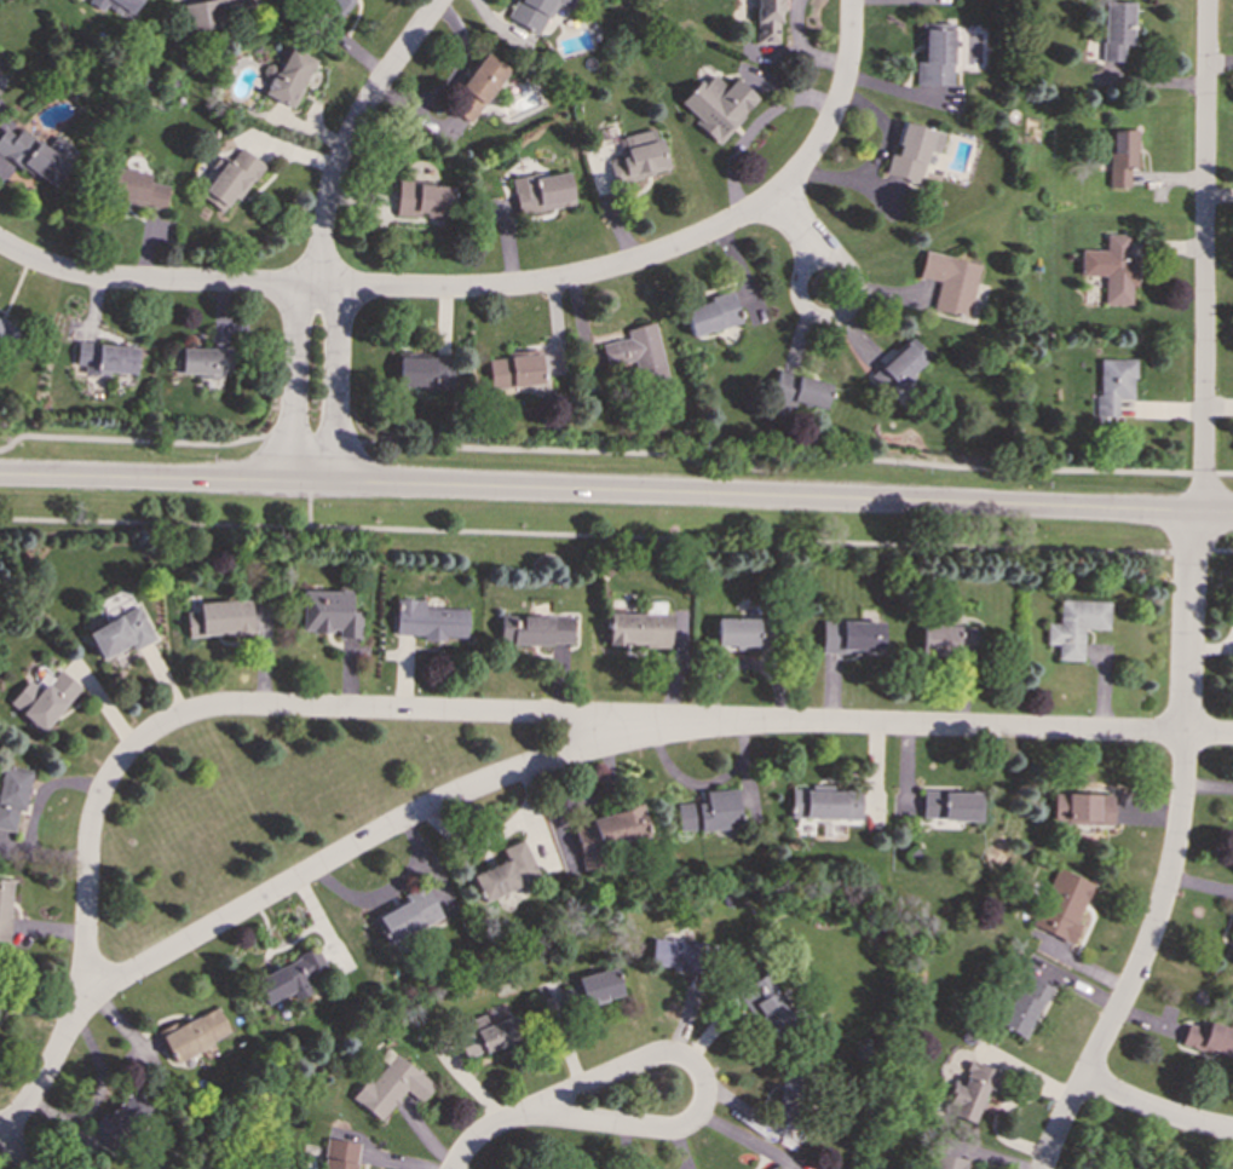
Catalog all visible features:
building: (335, 6)
building: (117, 7)
building: (212, 12)
building: (534, 13)
building: (766, 21)
building: (1117, 29)
building: (934, 56)
building: (286, 76)
building: (476, 87)
building: (716, 104)
road: (350, 133)
building: (911, 151)
building: (36, 155)
building: (1122, 156)
building: (639, 157)
building: (229, 178)
building: (136, 188)
building: (540, 191)
building: (422, 200)
road: (793, 226)
road: (658, 254)
road: (1204, 257)
building: (1111, 267)
road: (799, 278)
road: (152, 282)
building: (950, 282)
road: (854, 294)
building: (710, 315)
building: (7, 333)
building: (636, 352)
building: (105, 358)
building: (201, 361)
building: (899, 365)
building: (514, 369)
building: (424, 372)
road: (335, 381)
road: (292, 384)
building: (1112, 384)
building: (800, 391)
road: (311, 438)
road: (127, 440)
road: (773, 468)
road: (1200, 472)
road: (1225, 472)
road: (616, 493)
road: (309, 505)
road: (616, 535)
building: (329, 614)
building: (219, 618)
building: (428, 621)
building: (1076, 626)
building: (535, 629)
building: (638, 629)
building: (120, 633)
building: (742, 633)
building: (851, 637)
building: (946, 639)
building: (42, 699)
road: (442, 710)
road: (1209, 735)
building: (12, 795)
building: (951, 805)
building: (823, 806)
building: (1082, 808)
building: (709, 812)
building: (605, 834)
road: (373, 836)
road: (1172, 854)
building: (505, 873)
building: (1062, 905)
building: (5, 909)
building: (405, 916)
building: (675, 954)
building: (288, 977)
building: (592, 987)
building: (766, 1004)
building: (1022, 1008)
building: (194, 1033)
building: (485, 1033)
building: (1208, 1038)
building: (391, 1085)
building: (970, 1090)
building: (791, 1096)
road: (1157, 1111)
road: (691, 1119)
building: (119, 1121)
road: (494, 1129)
road: (16, 1152)
building: (339, 1154)
building: (945, 1162)
building: (771, 1168)

